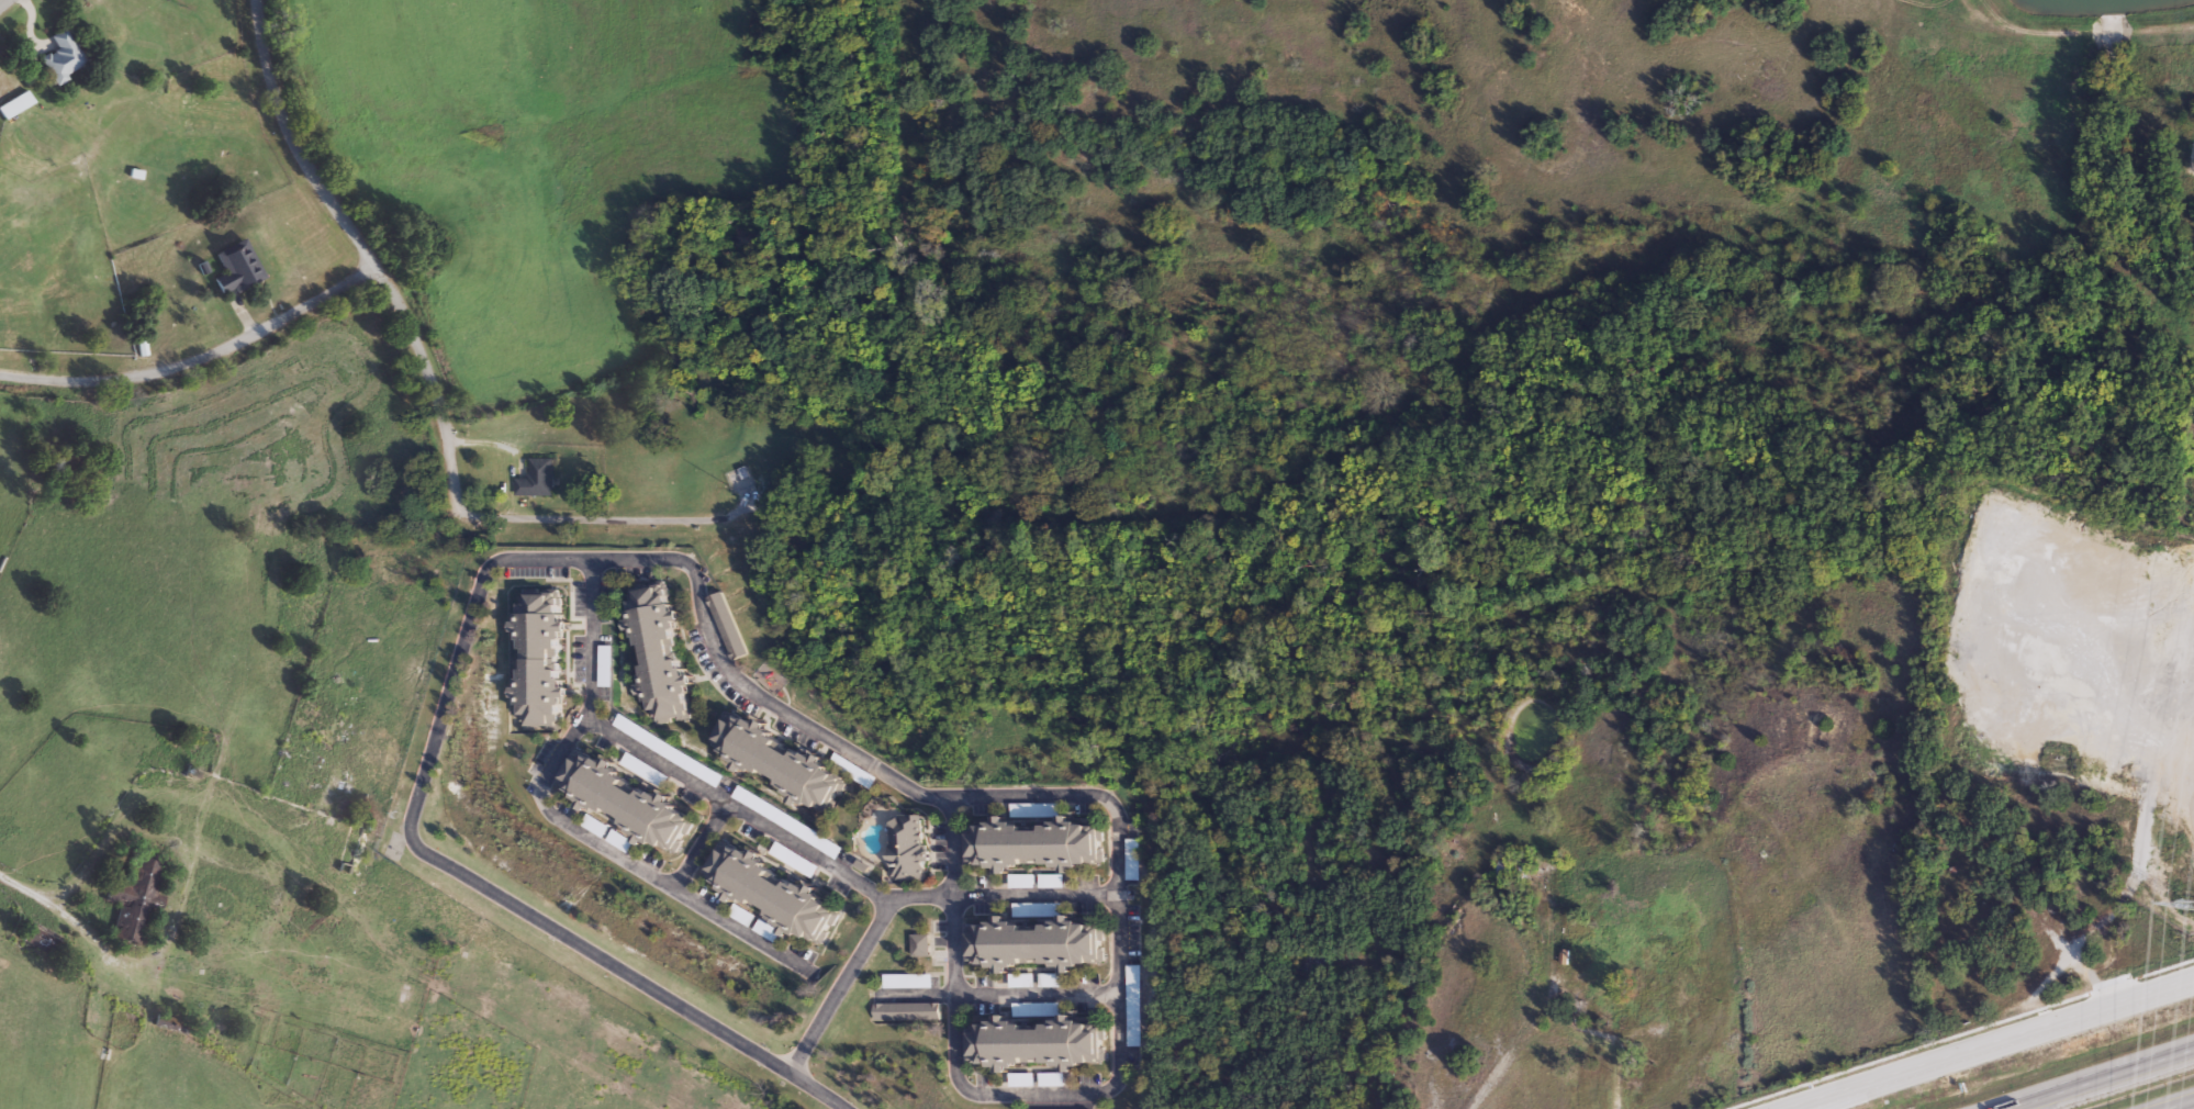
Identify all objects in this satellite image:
road: (7, 4)
building: (58, 57)
building: (12, 105)
road: (362, 251)
building: (231, 269)
road: (197, 363)
building: (535, 480)
road: (614, 513)
building: (725, 627)
building: (654, 651)
building: (531, 662)
road: (830, 741)
building: (772, 764)
building: (847, 772)
building: (628, 804)
road: (738, 810)
road: (563, 820)
road: (701, 847)
building: (1028, 847)
road: (948, 851)
building: (796, 865)
building: (1508, 874)
road: (15, 878)
building: (771, 896)
road: (1033, 898)
power tower: (2187, 907)
building: (1971, 930)
building: (1030, 946)
building: (1652, 957)
building: (1592, 979)
building: (904, 983)
road: (1037, 993)
building: (1682, 996)
building: (904, 1013)
road: (1962, 1034)
road: (1994, 1045)
building: (1036, 1046)
road: (2095, 1076)
road: (1881, 1085)
road: (819, 1090)
road: (2181, 1105)

